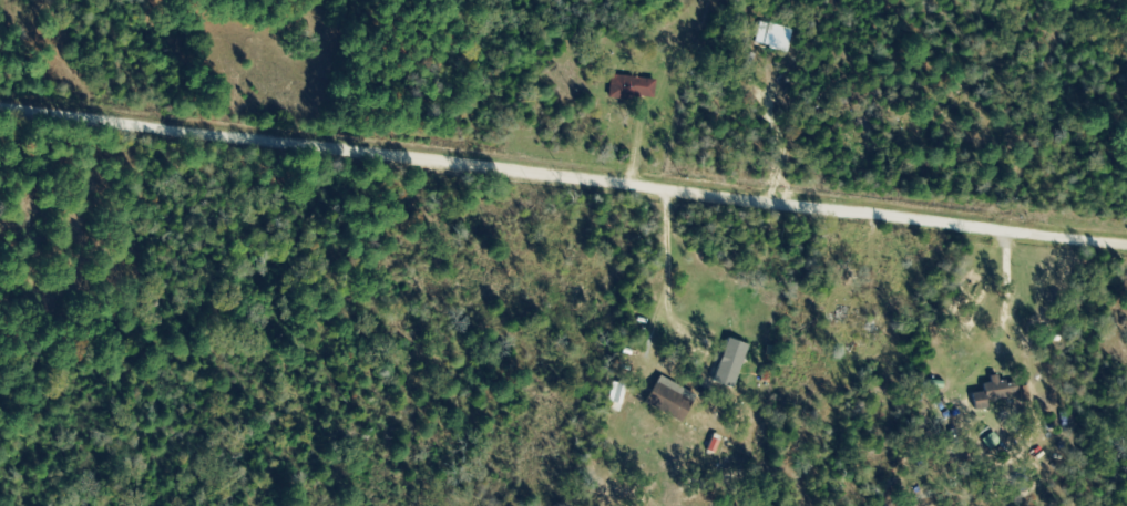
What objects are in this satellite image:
building: (631, 87)
road: (563, 176)
building: (854, 318)
building: (993, 389)
building: (667, 401)
building: (990, 441)

